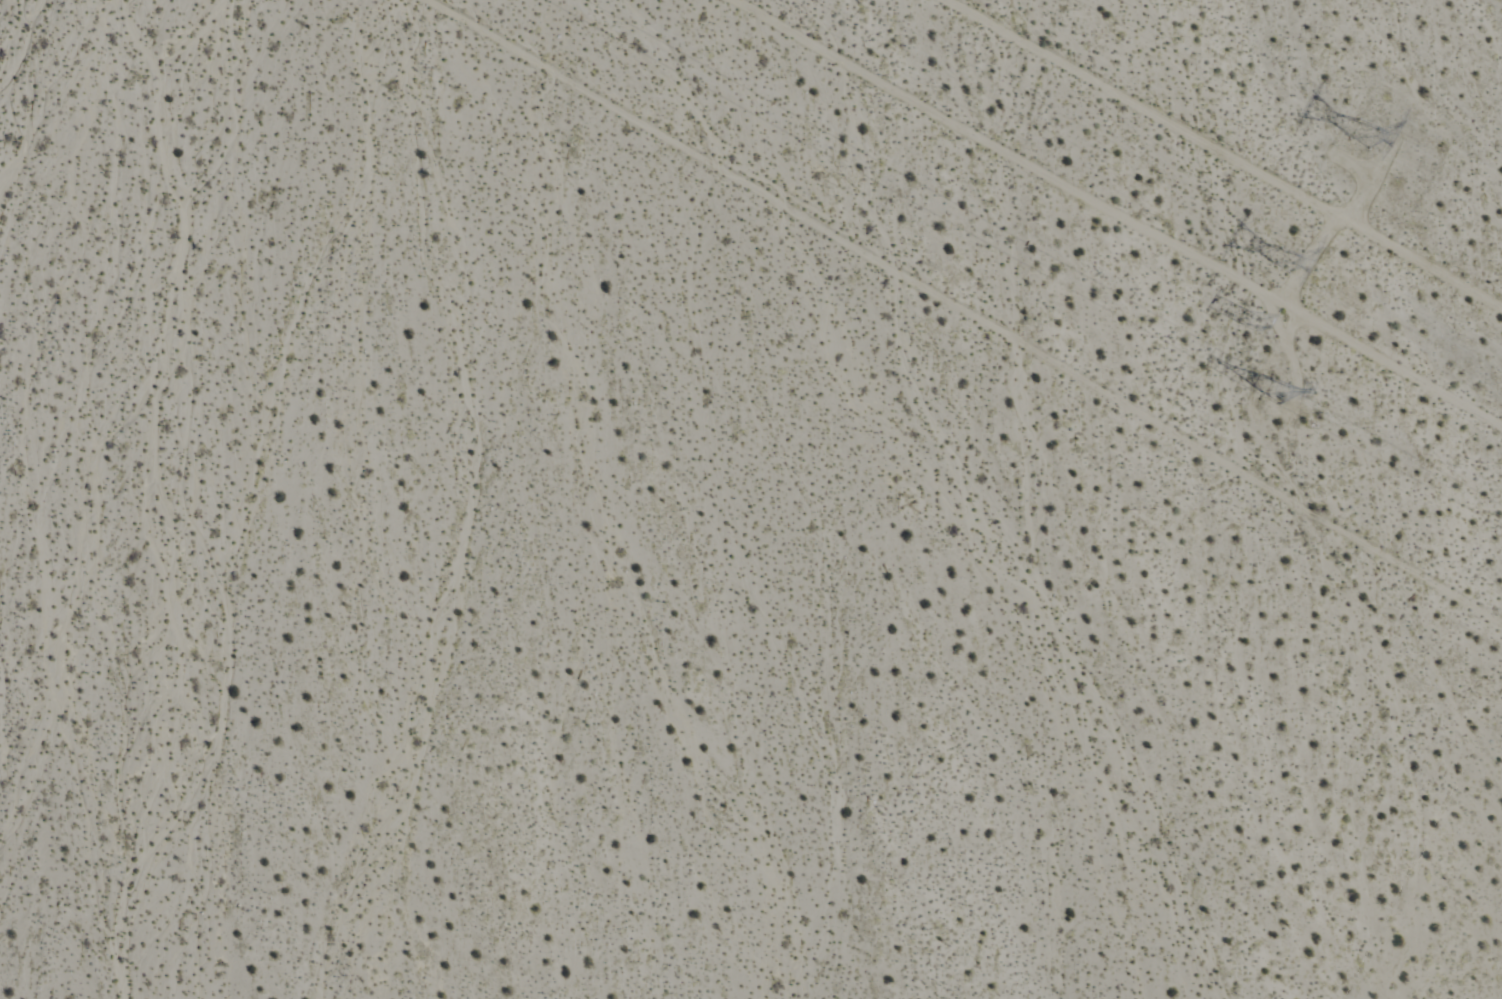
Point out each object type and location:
power tower: (1374, 136)
road: (1113, 212)
power tower: (1292, 262)
power tower: (1256, 325)
power tower: (1284, 392)

